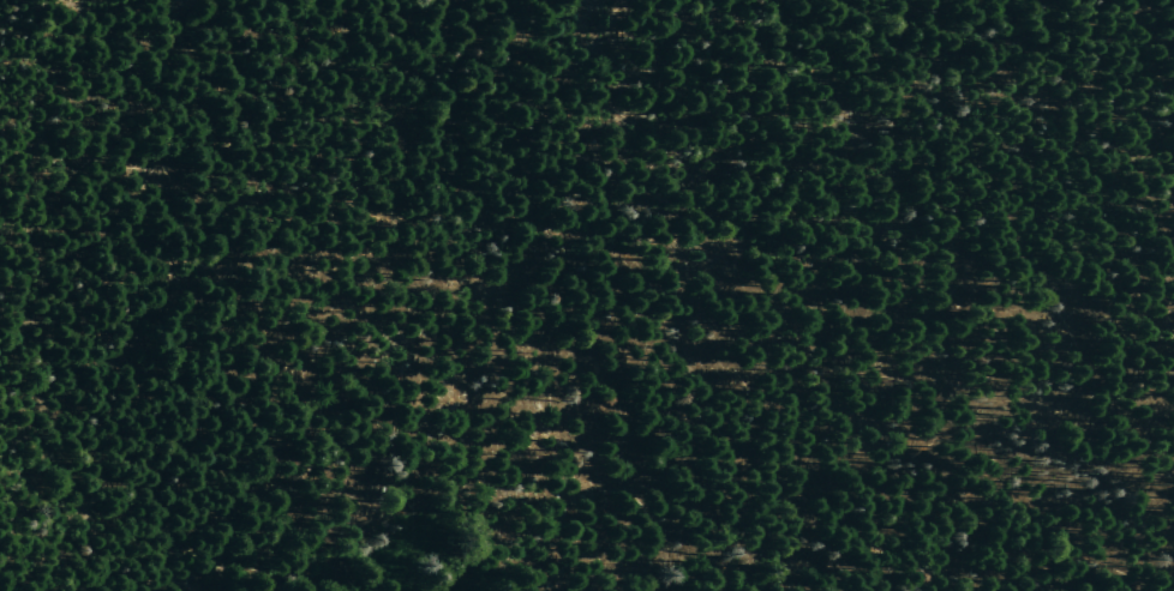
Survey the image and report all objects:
road: (651, 336)

